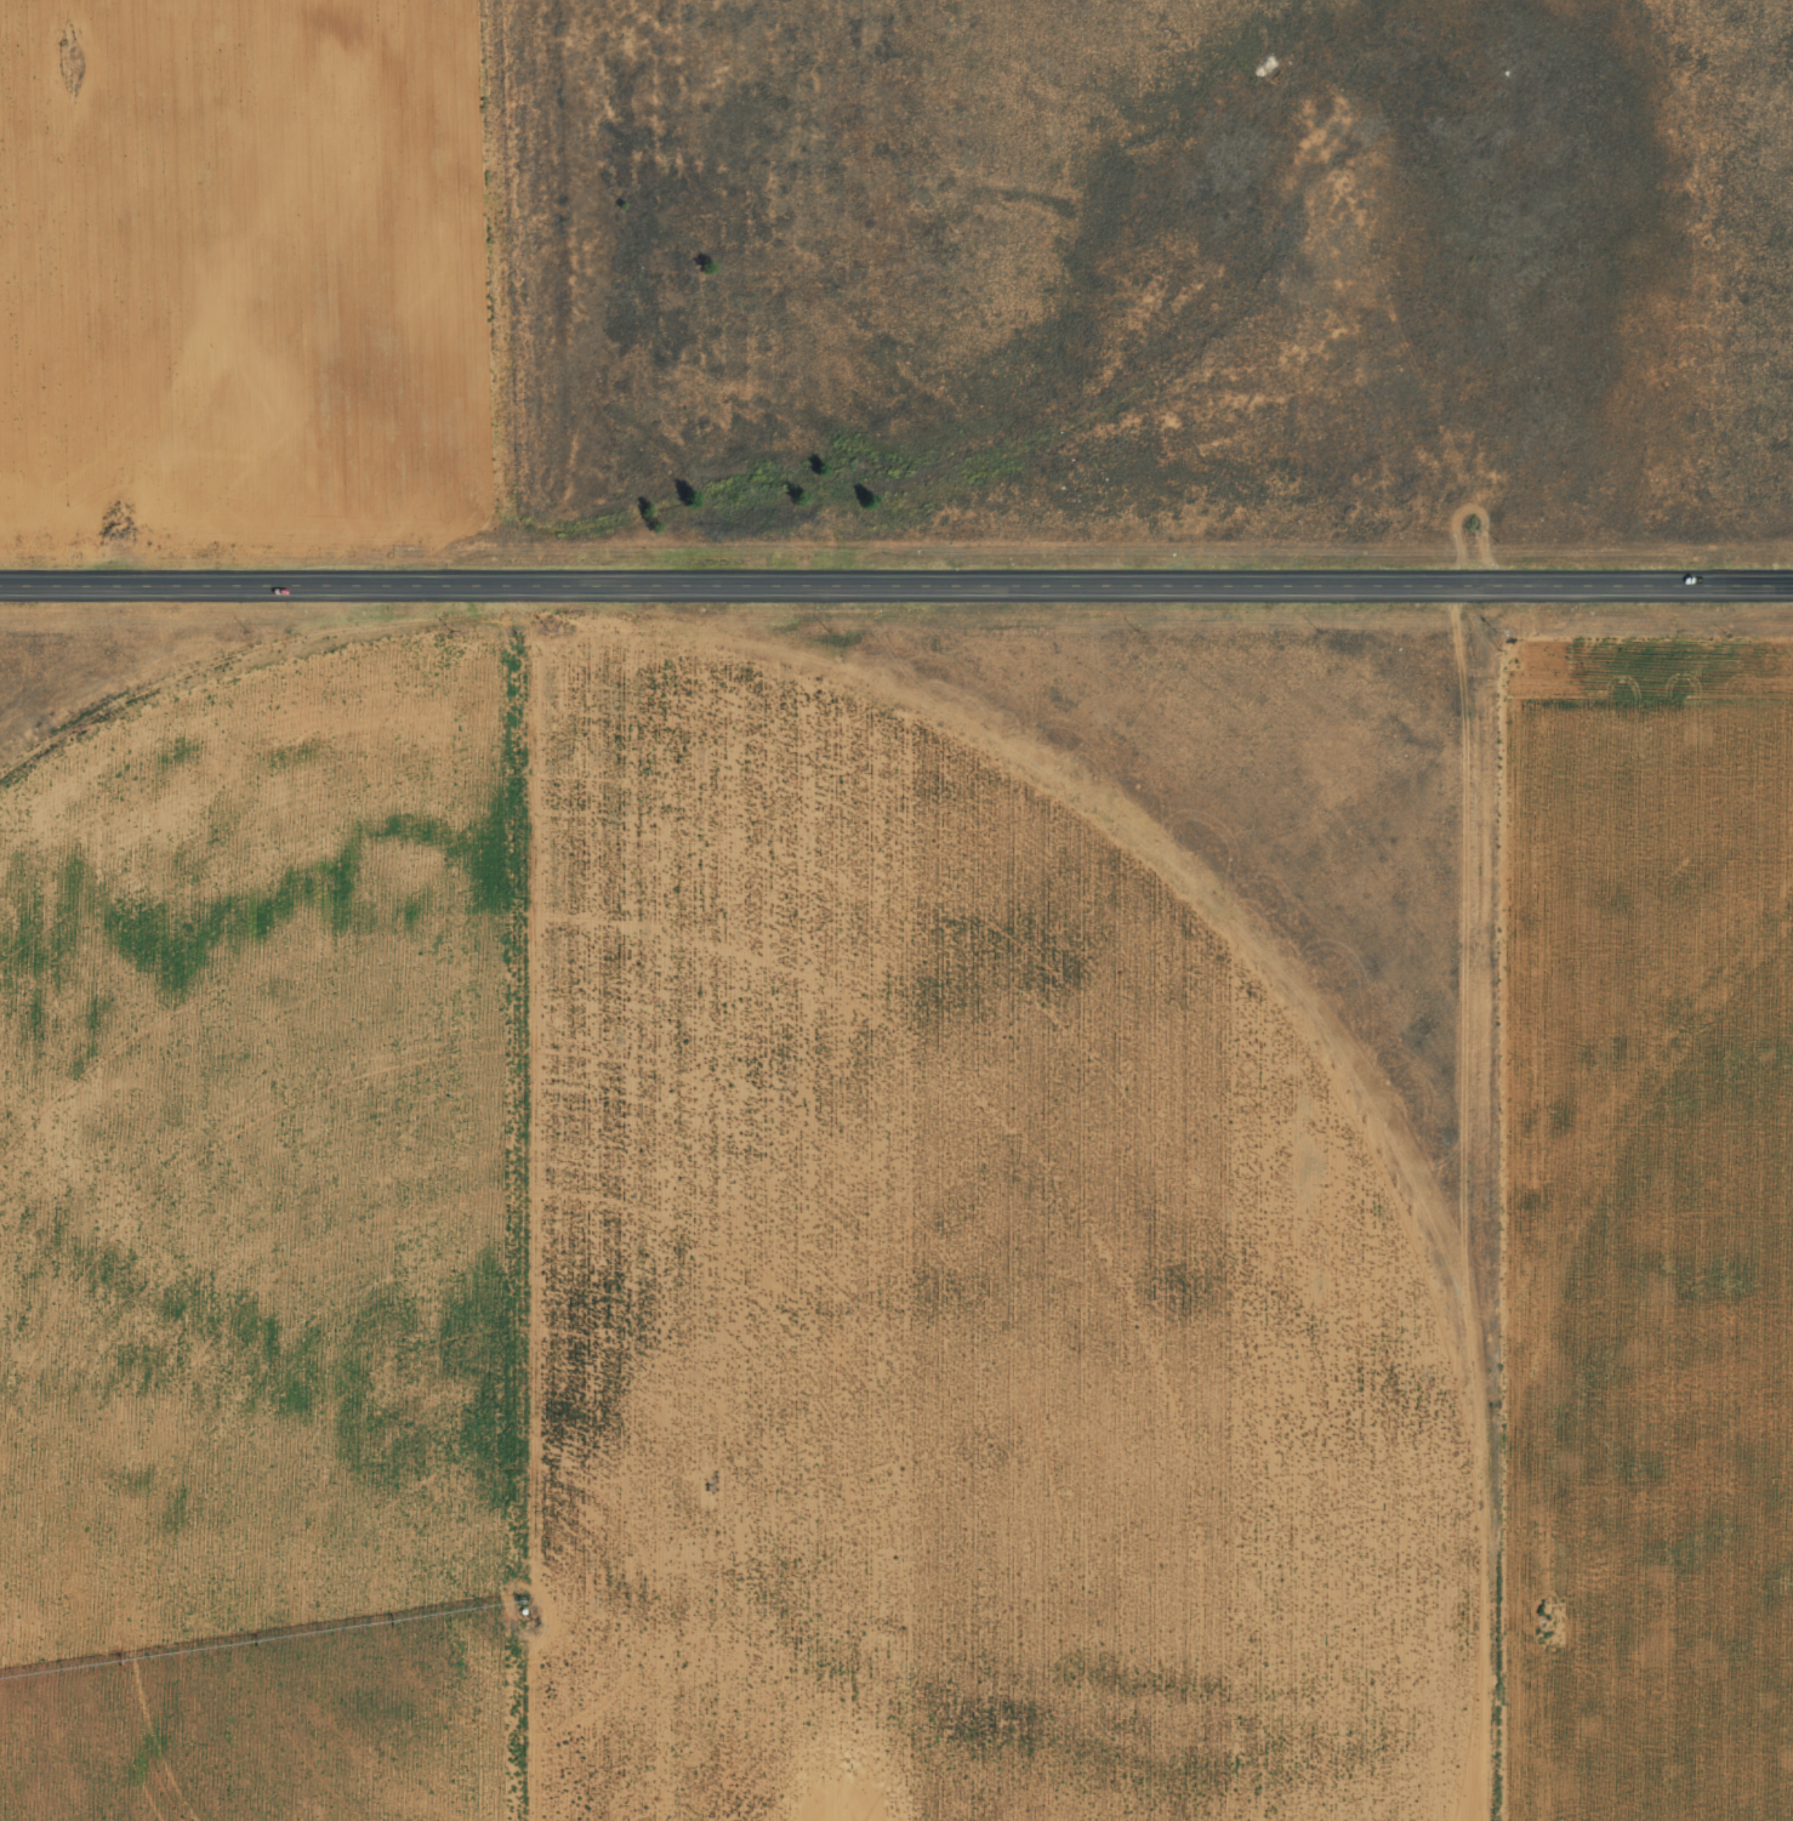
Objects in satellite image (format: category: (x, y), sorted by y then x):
road: (897, 582)

